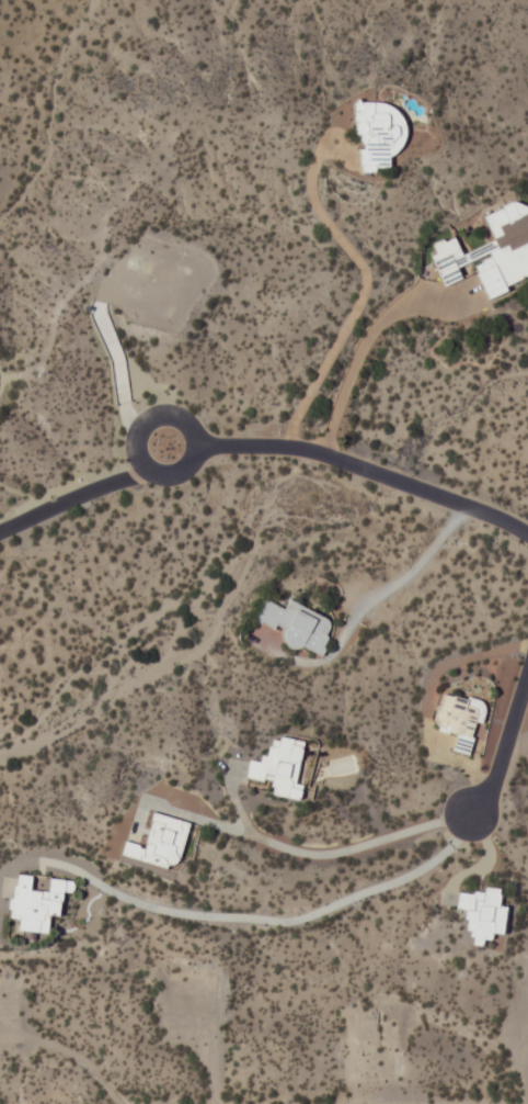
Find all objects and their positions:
building: (377, 135)
building: (490, 252)
road: (262, 447)
road: (405, 574)
building: (297, 624)
building: (459, 719)
road: (506, 747)
building: (279, 767)
building: (159, 842)
road: (337, 850)
building: (35, 901)
building: (482, 914)
road: (282, 917)

